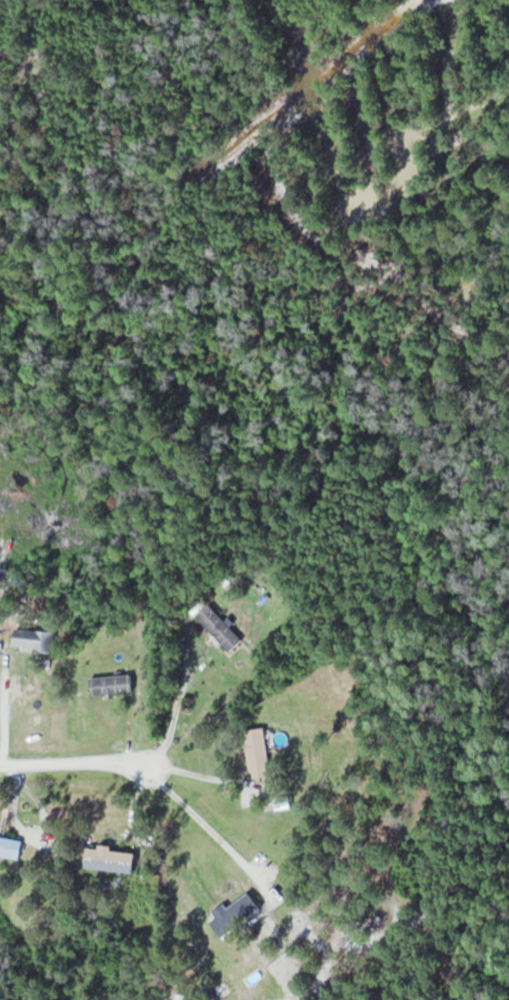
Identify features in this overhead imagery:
building: (220, 628)
building: (35, 640)
building: (112, 683)
road: (181, 690)
road: (3, 711)
building: (258, 751)
road: (73, 764)
road: (198, 773)
road: (195, 815)
building: (10, 846)
building: (110, 859)
building: (234, 913)

